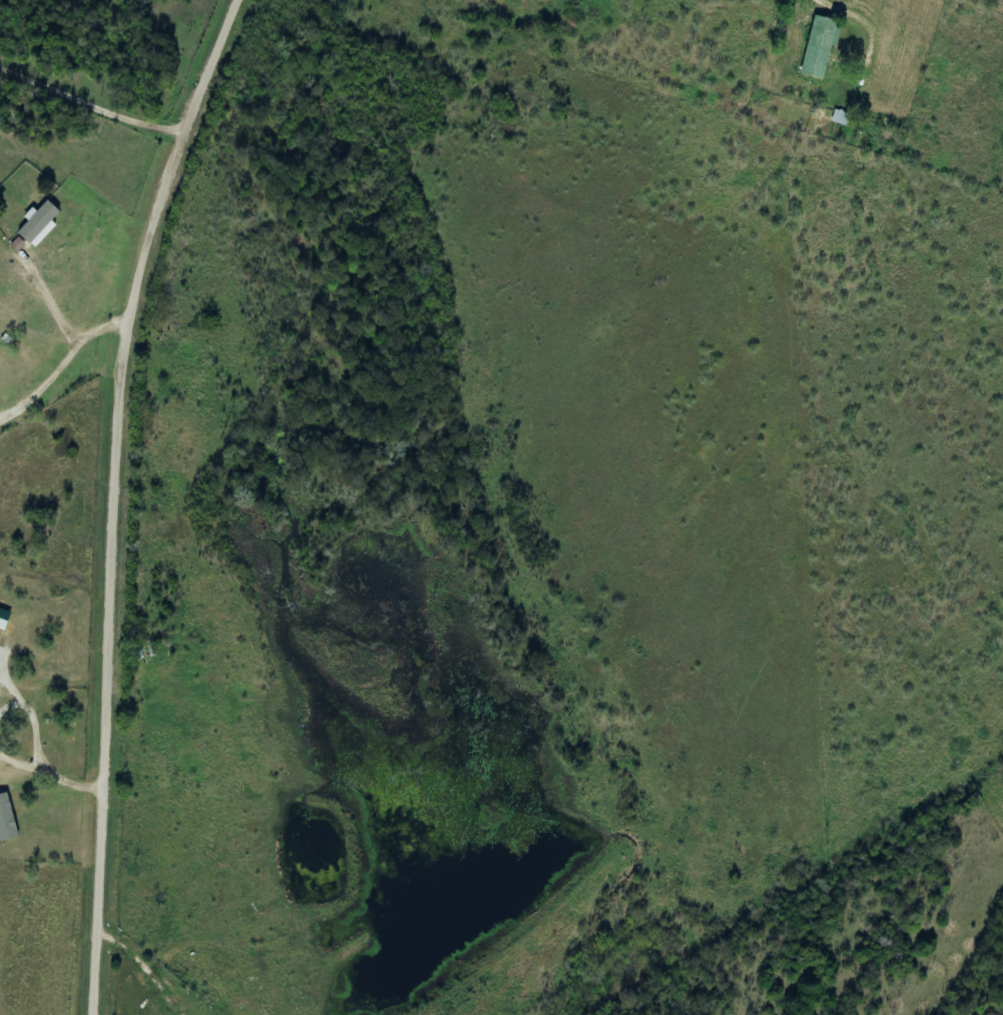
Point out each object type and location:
road: (936, 26)
building: (822, 46)
building: (841, 117)
building: (40, 224)
building: (19, 245)
road: (120, 497)
building: (4, 618)

